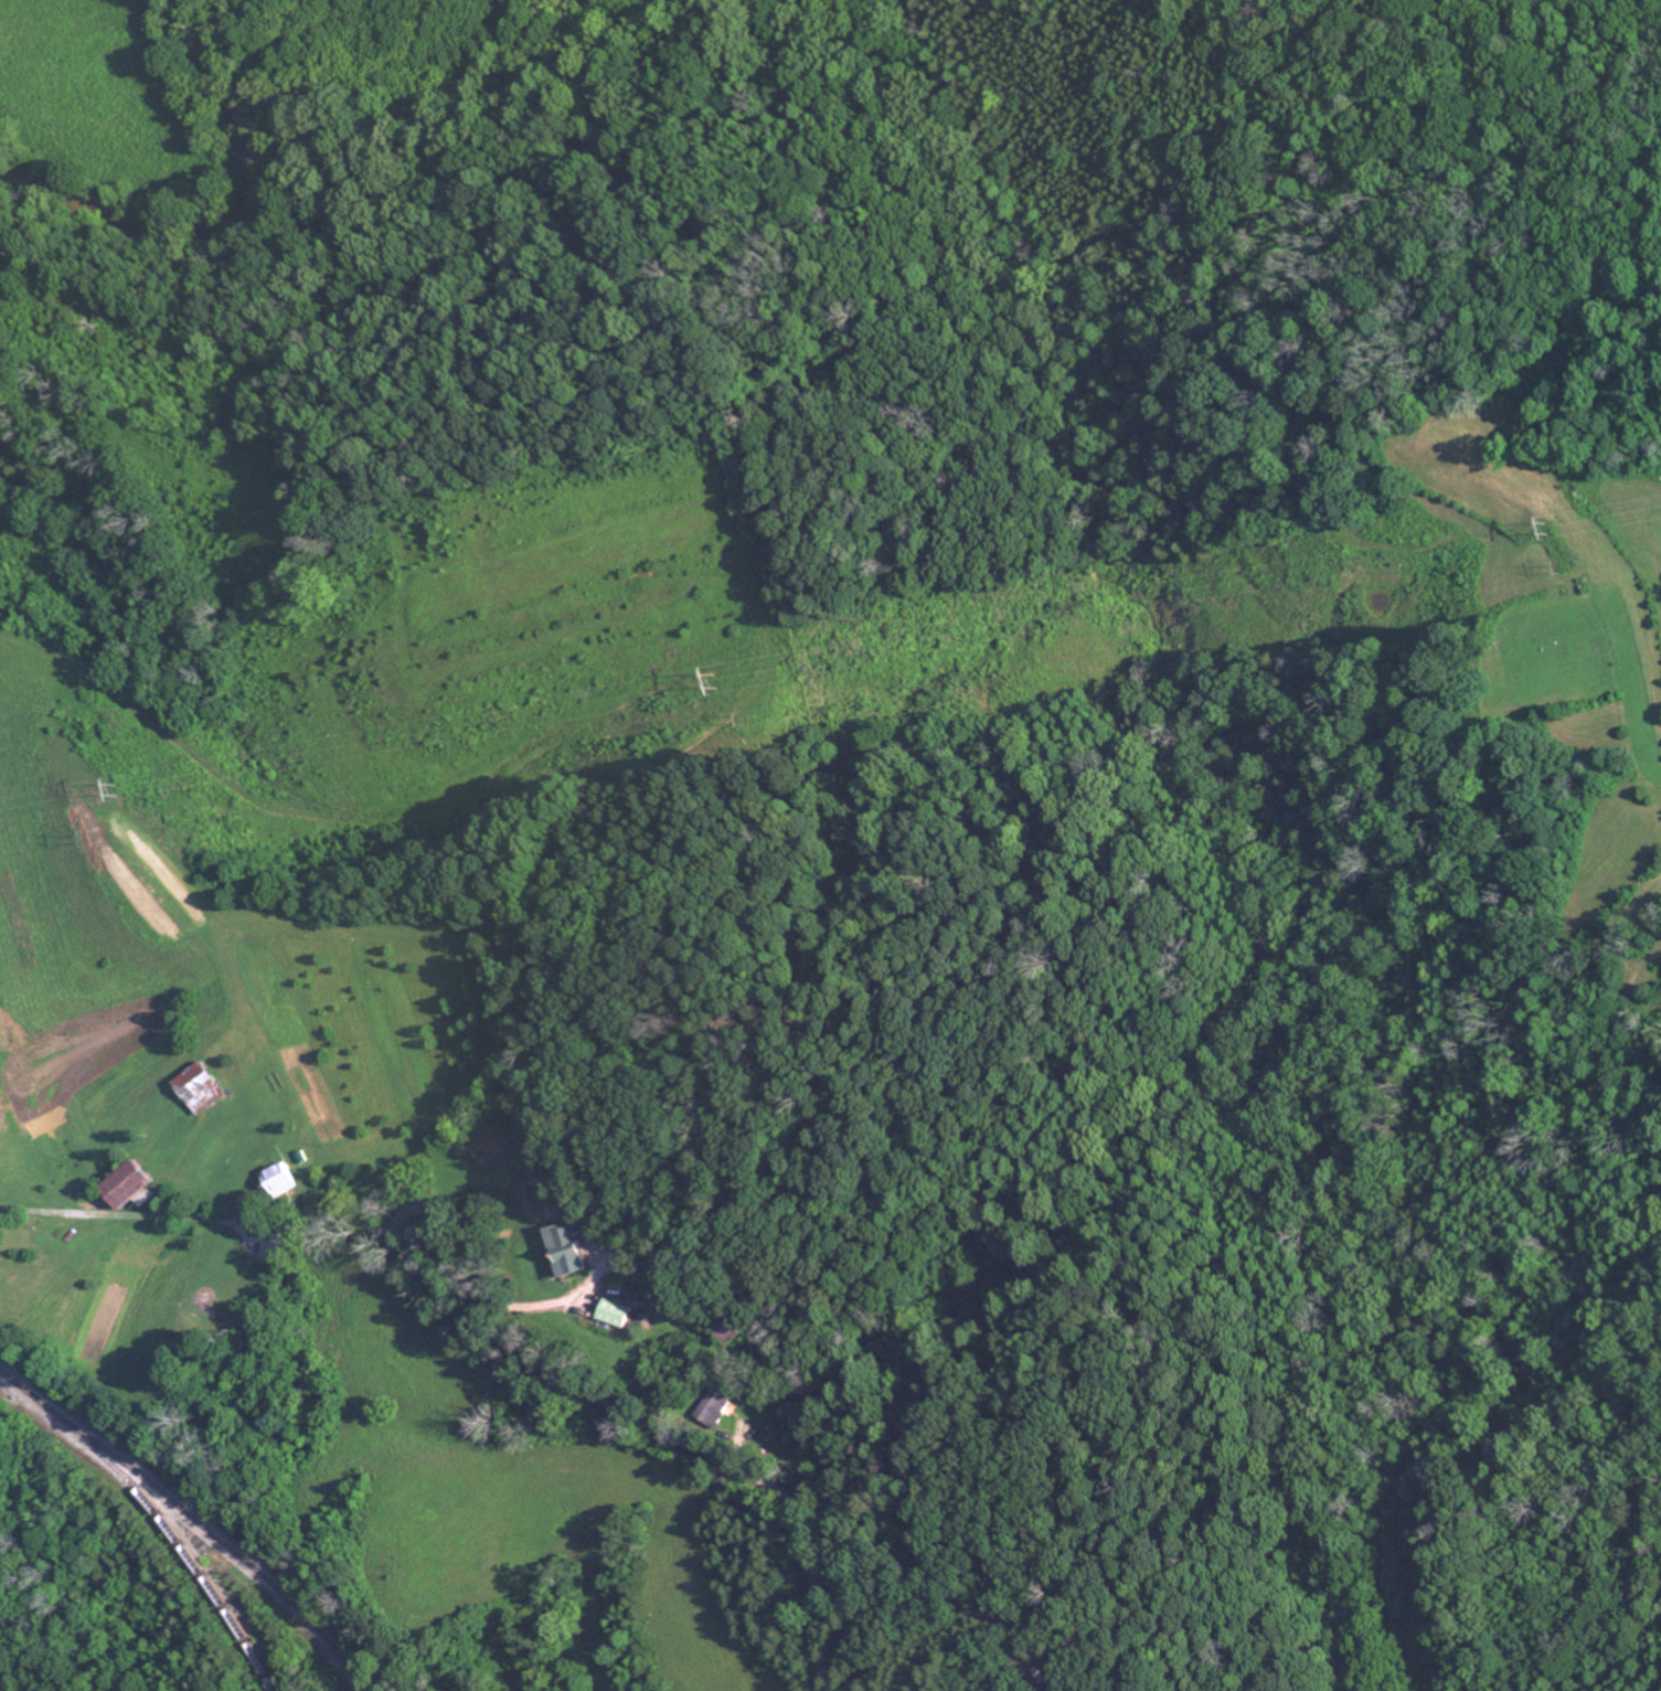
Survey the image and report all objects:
power tower: (1547, 525)
power tower: (1557, 565)
power tower: (713, 677)
power tower: (743, 714)
power tower: (119, 785)
power tower: (90, 836)
building: (209, 1089)
building: (286, 1181)
building: (138, 1187)
road: (221, 1224)
building: (572, 1249)
road: (480, 1287)
building: (622, 1315)
building: (718, 1405)
road: (611, 1406)
railway: (194, 1512)
railway: (174, 1529)
road: (1638, 1629)

